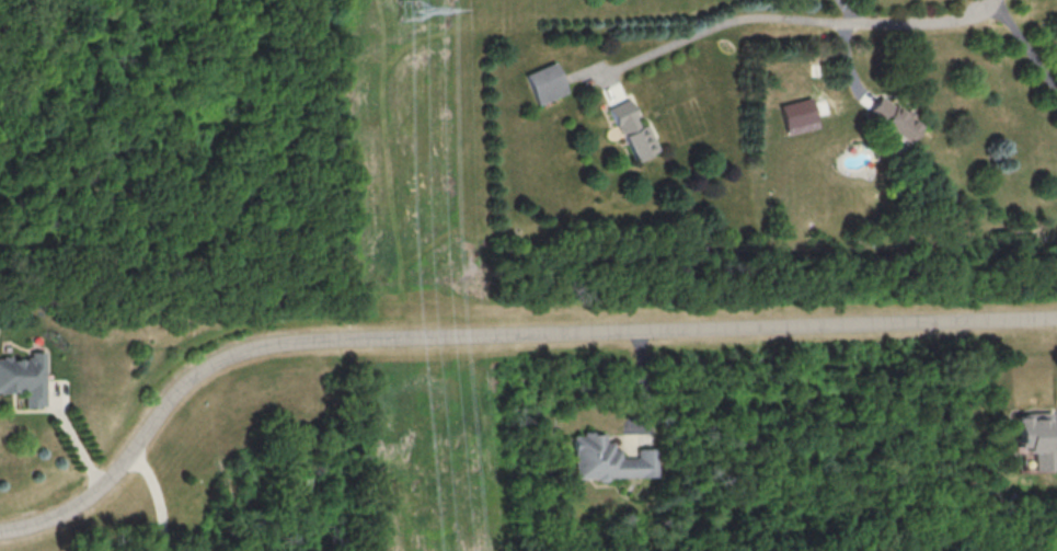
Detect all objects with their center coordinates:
power tower: (411, 10)
road: (849, 12)
road: (915, 22)
road: (713, 28)
road: (1021, 46)
building: (547, 82)
building: (797, 115)
building: (892, 118)
building: (633, 131)
road: (492, 338)
building: (24, 377)
road: (72, 438)
building: (1033, 439)
building: (607, 459)
road: (159, 497)

